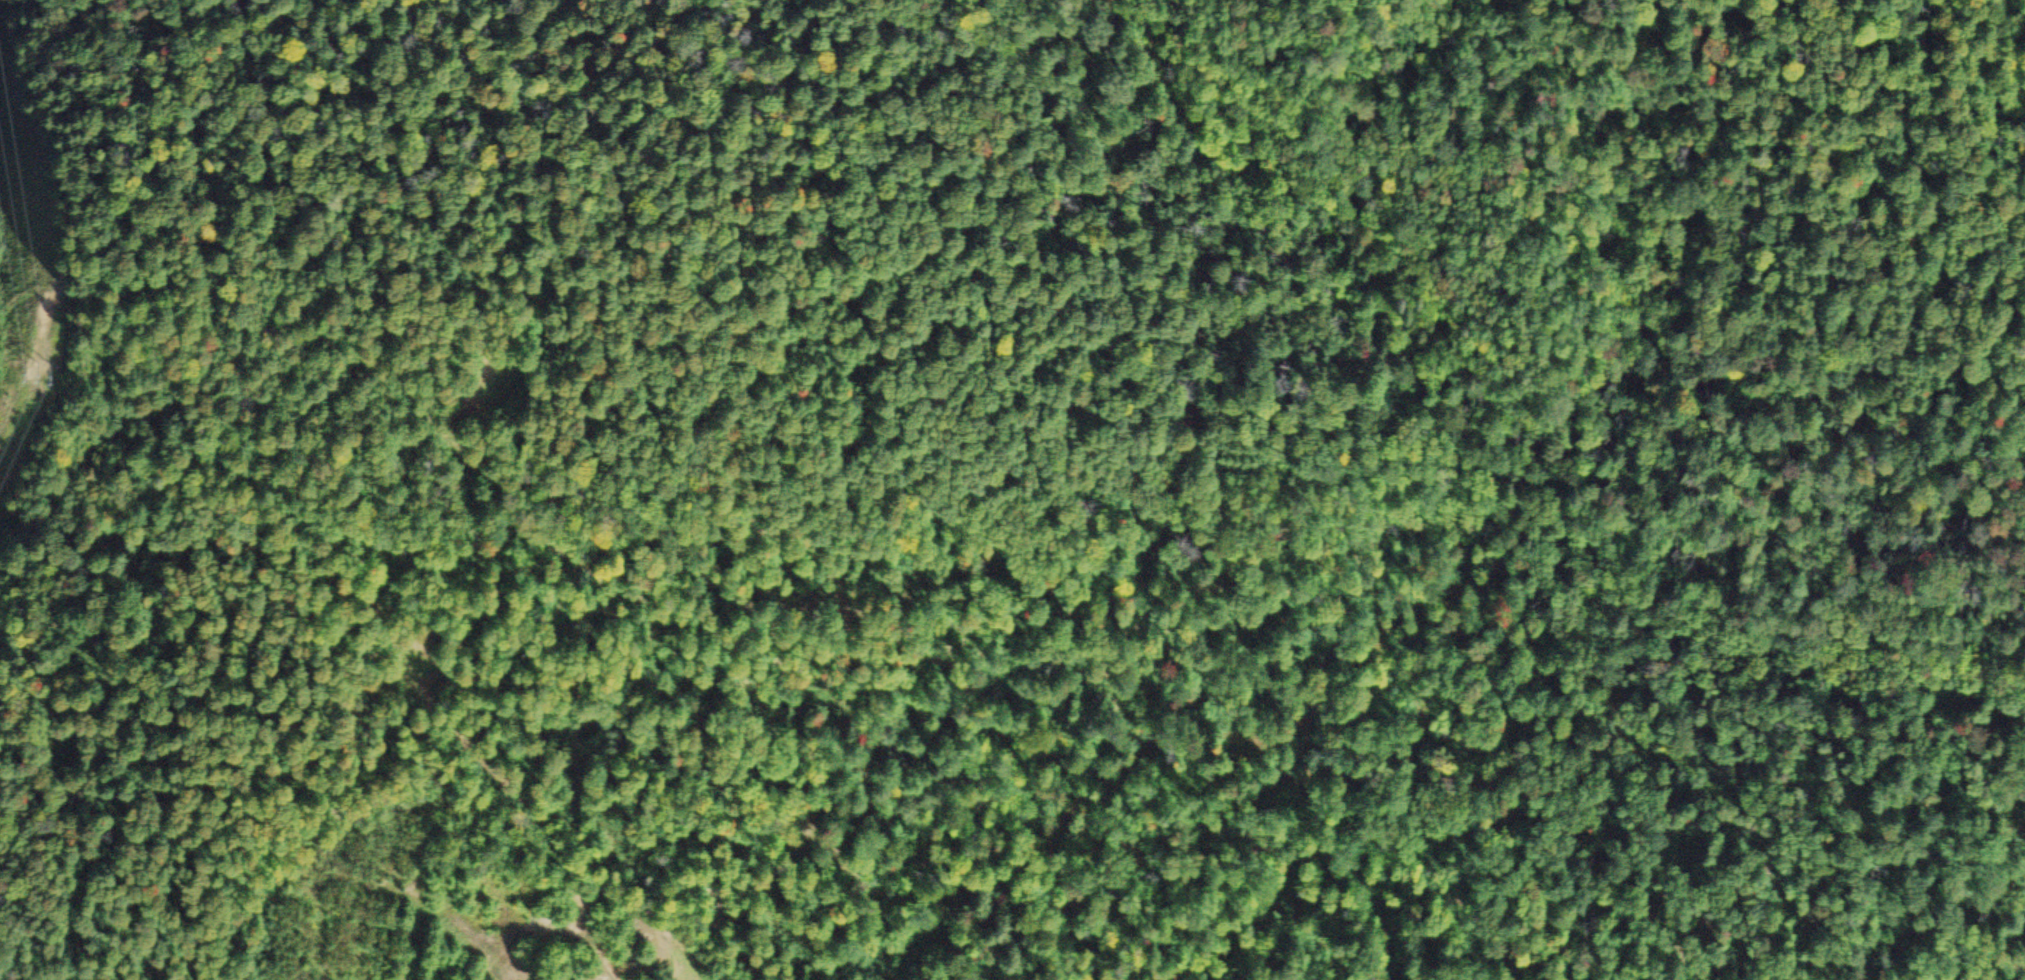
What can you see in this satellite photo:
power tower: (39, 363)
road: (617, 910)

